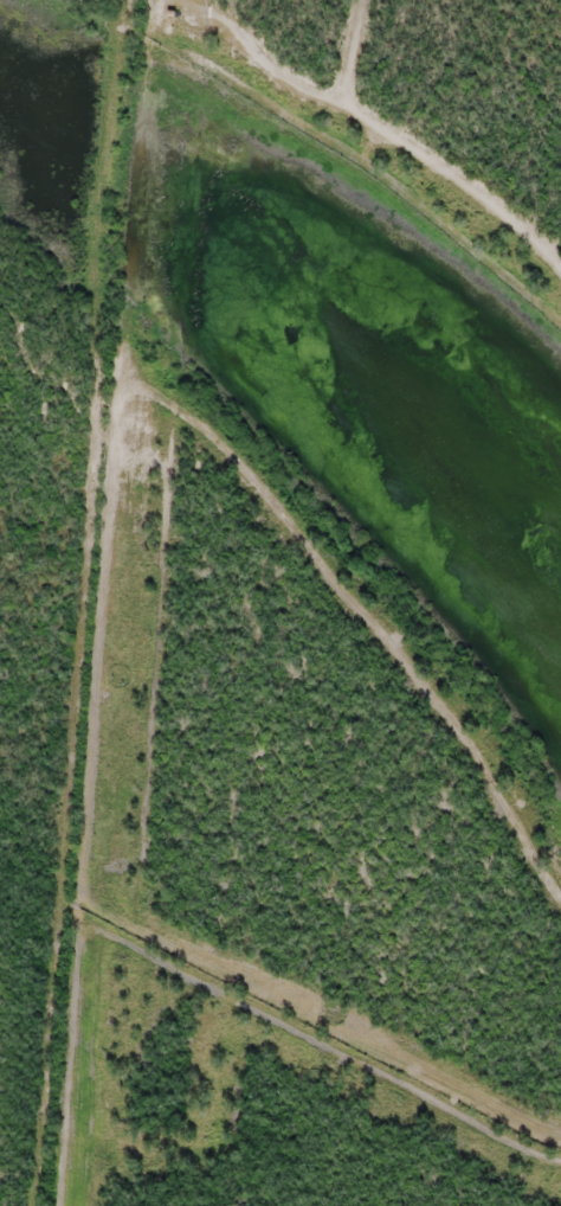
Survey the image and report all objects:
road: (446, 77)
river: (47, 109)
road: (89, 603)

